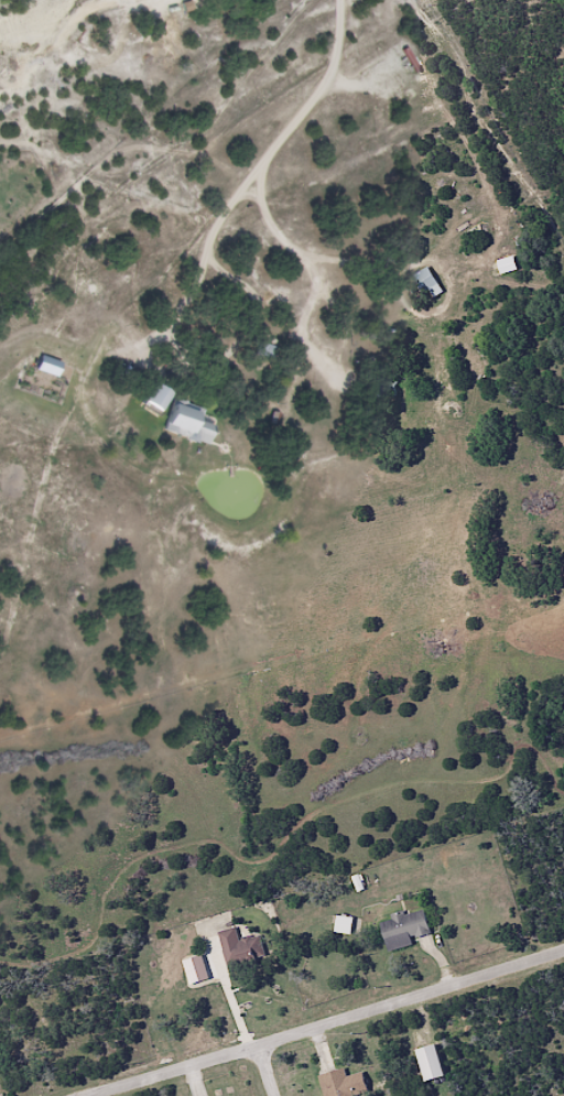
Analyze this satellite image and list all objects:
road: (82, 172)
road: (330, 247)
building: (267, 351)
building: (185, 423)
building: (402, 931)
building: (237, 952)
road: (321, 1022)
road: (271, 1068)
building: (341, 1084)

